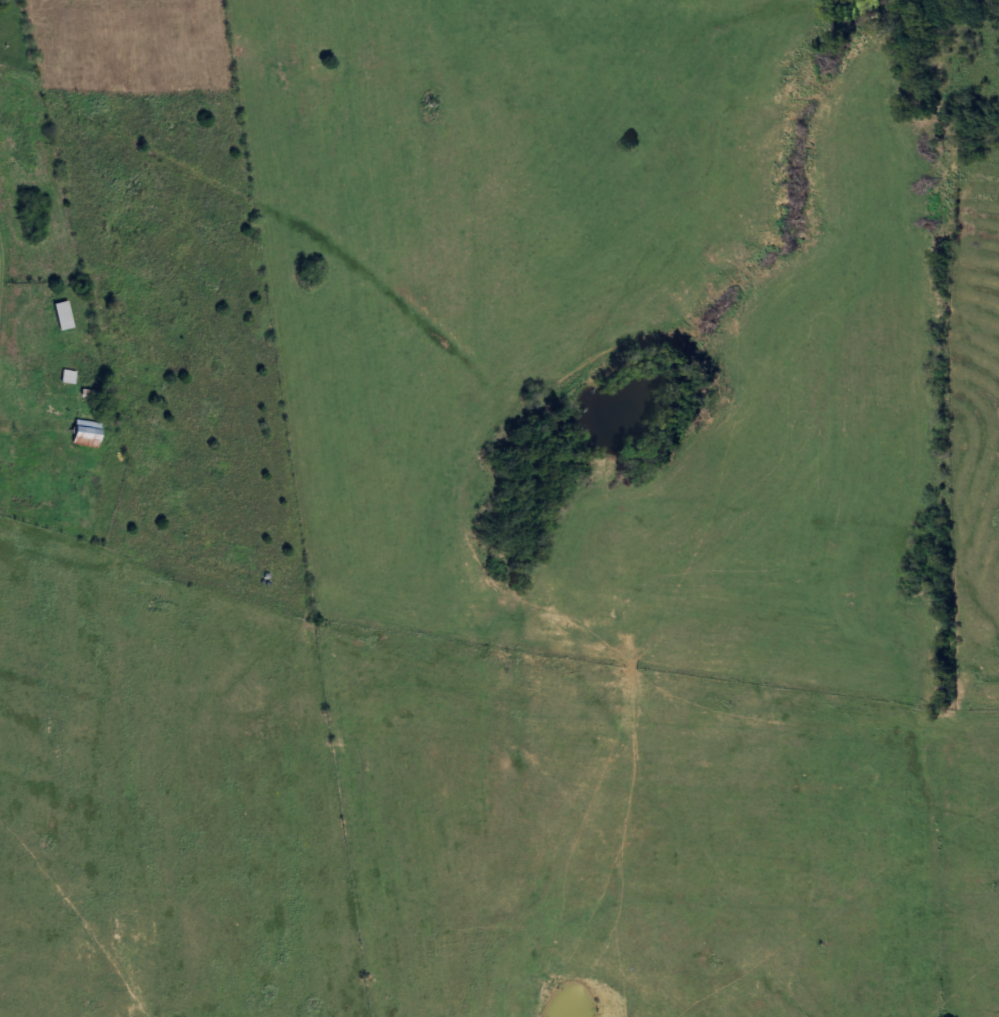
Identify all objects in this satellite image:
building: (66, 316)
building: (90, 434)
road: (434, 681)

